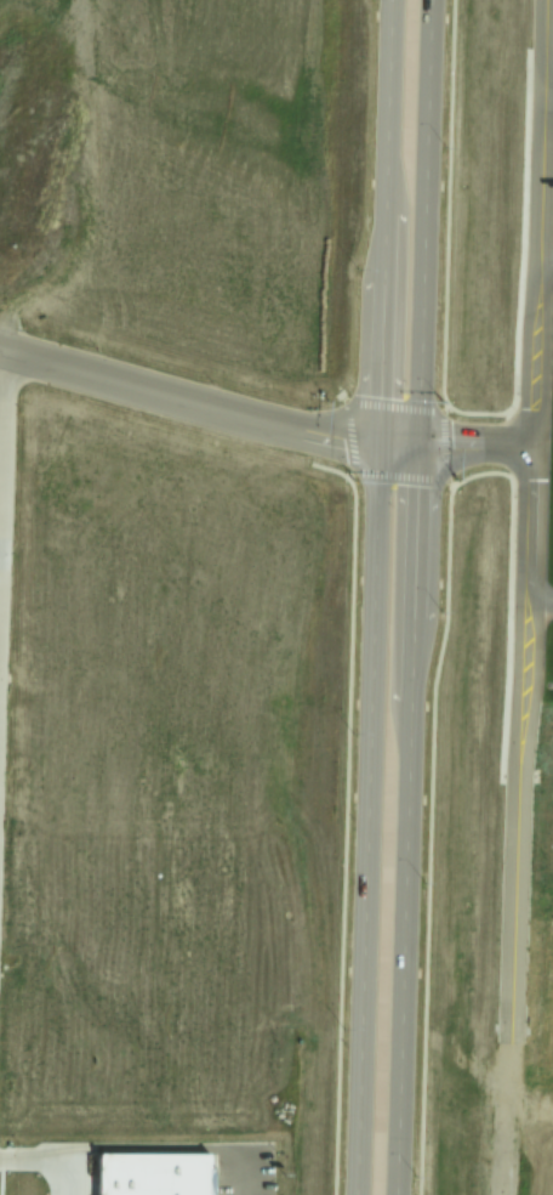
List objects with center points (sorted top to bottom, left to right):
road: (549, 92)
road: (547, 264)
road: (1, 376)
road: (210, 397)
road: (478, 452)
road: (532, 525)
road: (415, 596)
road: (372, 597)
road: (541, 604)
road: (508, 1122)

